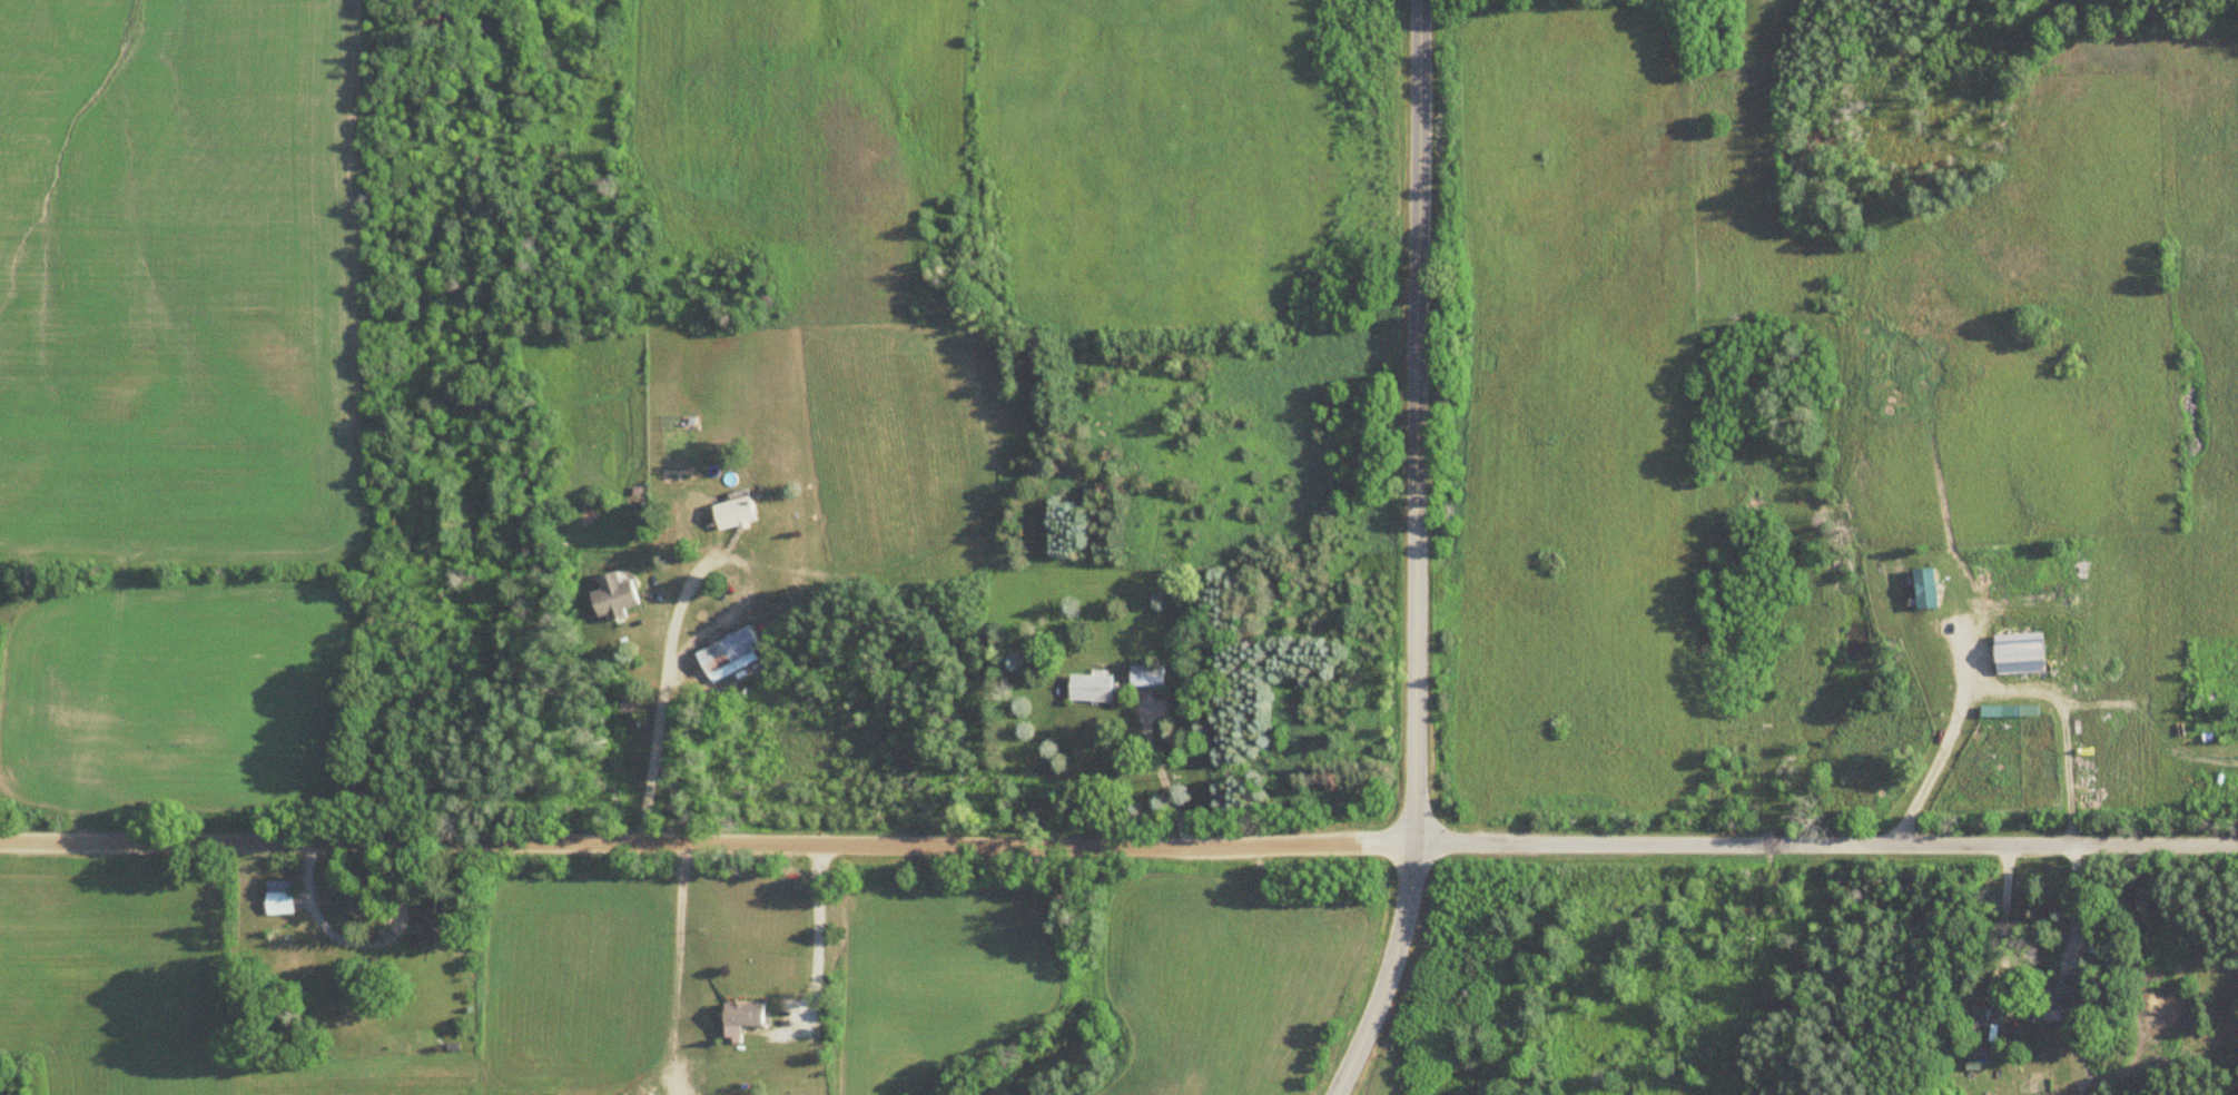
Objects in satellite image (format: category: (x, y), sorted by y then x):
crop: (798, 137)
crop: (184, 284)
road: (1416, 422)
building: (739, 513)
building: (1919, 589)
building: (617, 596)
building: (731, 651)
building: (1150, 674)
building: (1092, 687)
road: (707, 842)
road: (1826, 845)
building: (282, 892)
building: (438, 926)
road: (818, 941)
road: (1389, 971)
building: (748, 1019)

